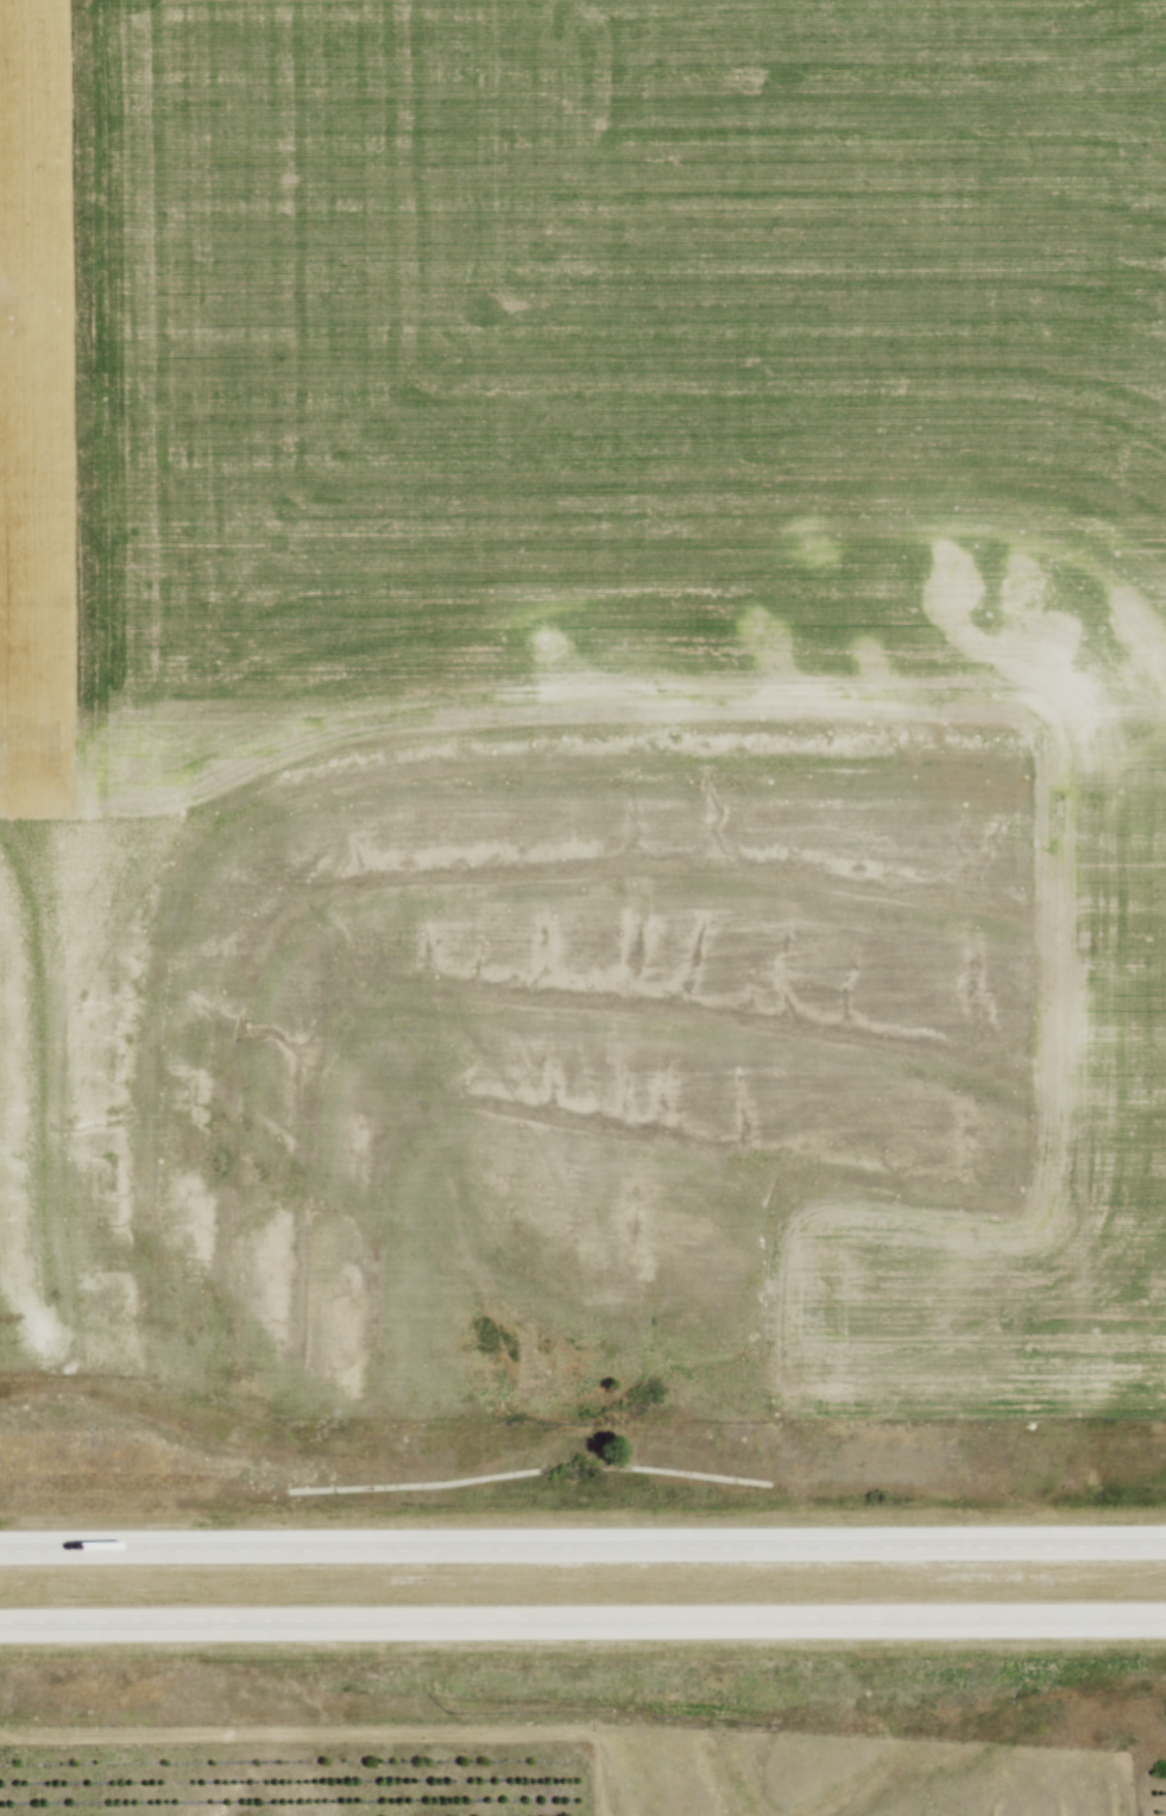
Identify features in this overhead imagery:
crop: (609, 513)
road: (582, 1550)
road: (582, 1619)

